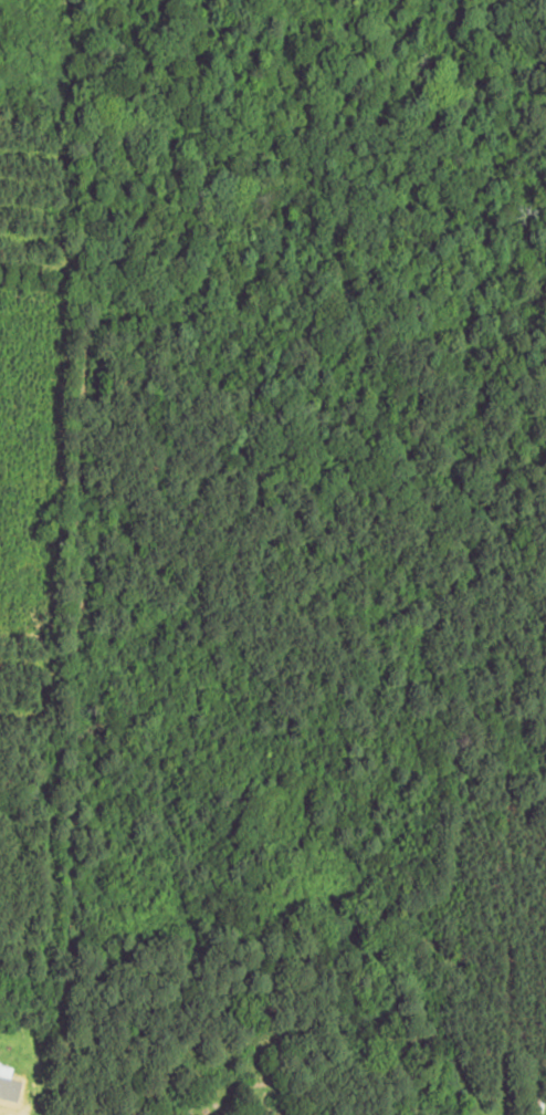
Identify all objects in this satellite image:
building: (10, 1081)

